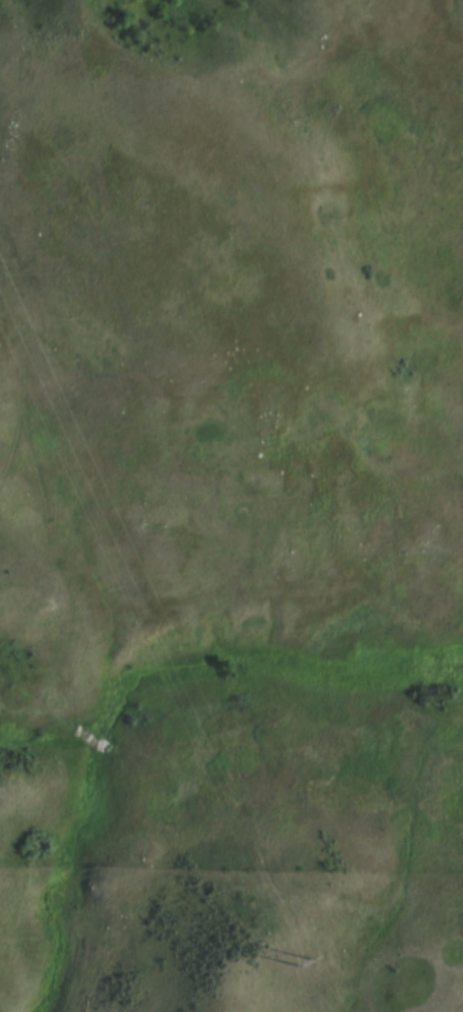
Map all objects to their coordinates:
power tower: (303, 970)

